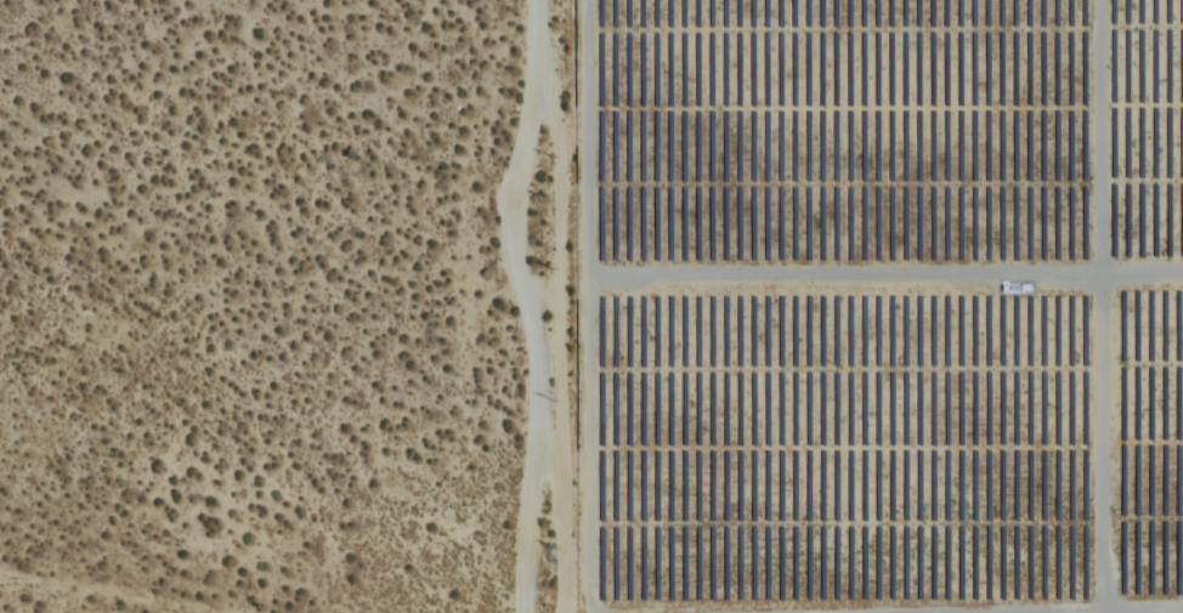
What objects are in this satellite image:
road: (520, 303)
solar farm: (876, 305)

